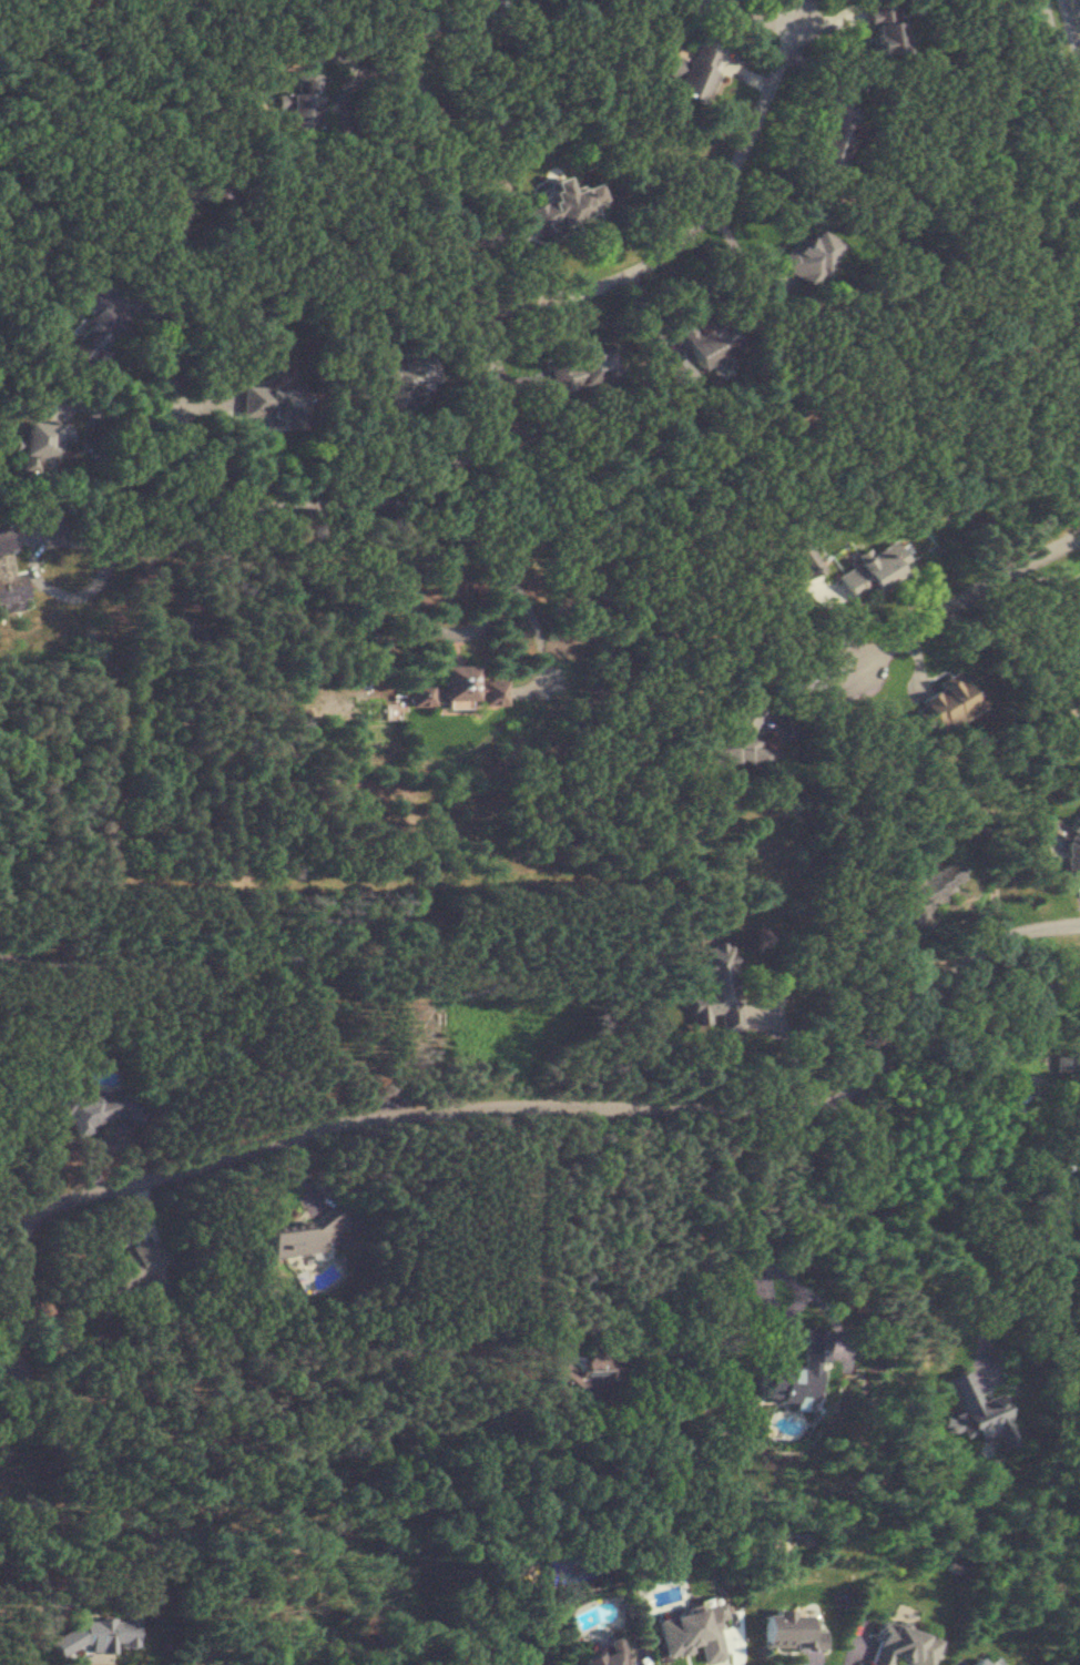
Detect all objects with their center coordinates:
road: (129, 0)
road: (1079, 4)
building: (885, 26)
building: (693, 71)
road: (1063, 79)
building: (303, 103)
building: (832, 133)
road: (332, 193)
building: (562, 205)
road: (694, 227)
building: (806, 256)
building: (94, 333)
building: (705, 341)
building: (581, 370)
building: (407, 378)
building: (271, 403)
road: (115, 409)
building: (40, 444)
road: (472, 446)
road: (224, 488)
building: (805, 558)
building: (873, 571)
building: (11, 577)
road: (965, 599)
road: (498, 603)
road: (533, 644)
building: (450, 691)
building: (746, 735)
building: (1073, 844)
building: (925, 890)
building: (715, 987)
road: (787, 1049)
building: (1067, 1063)
road: (1076, 1083)
road: (569, 1101)
building: (94, 1106)
road: (131, 1151)
road: (901, 1216)
building: (302, 1238)
road: (754, 1255)
building: (140, 1267)
road: (20, 1277)
road: (3, 1332)
road: (3, 1342)
road: (4, 1369)
building: (585, 1373)
building: (977, 1414)
road: (35, 1566)
building: (797, 1632)
building: (695, 1633)
building: (94, 1636)
building: (904, 1646)
building: (605, 1656)
building: (979, 1663)

